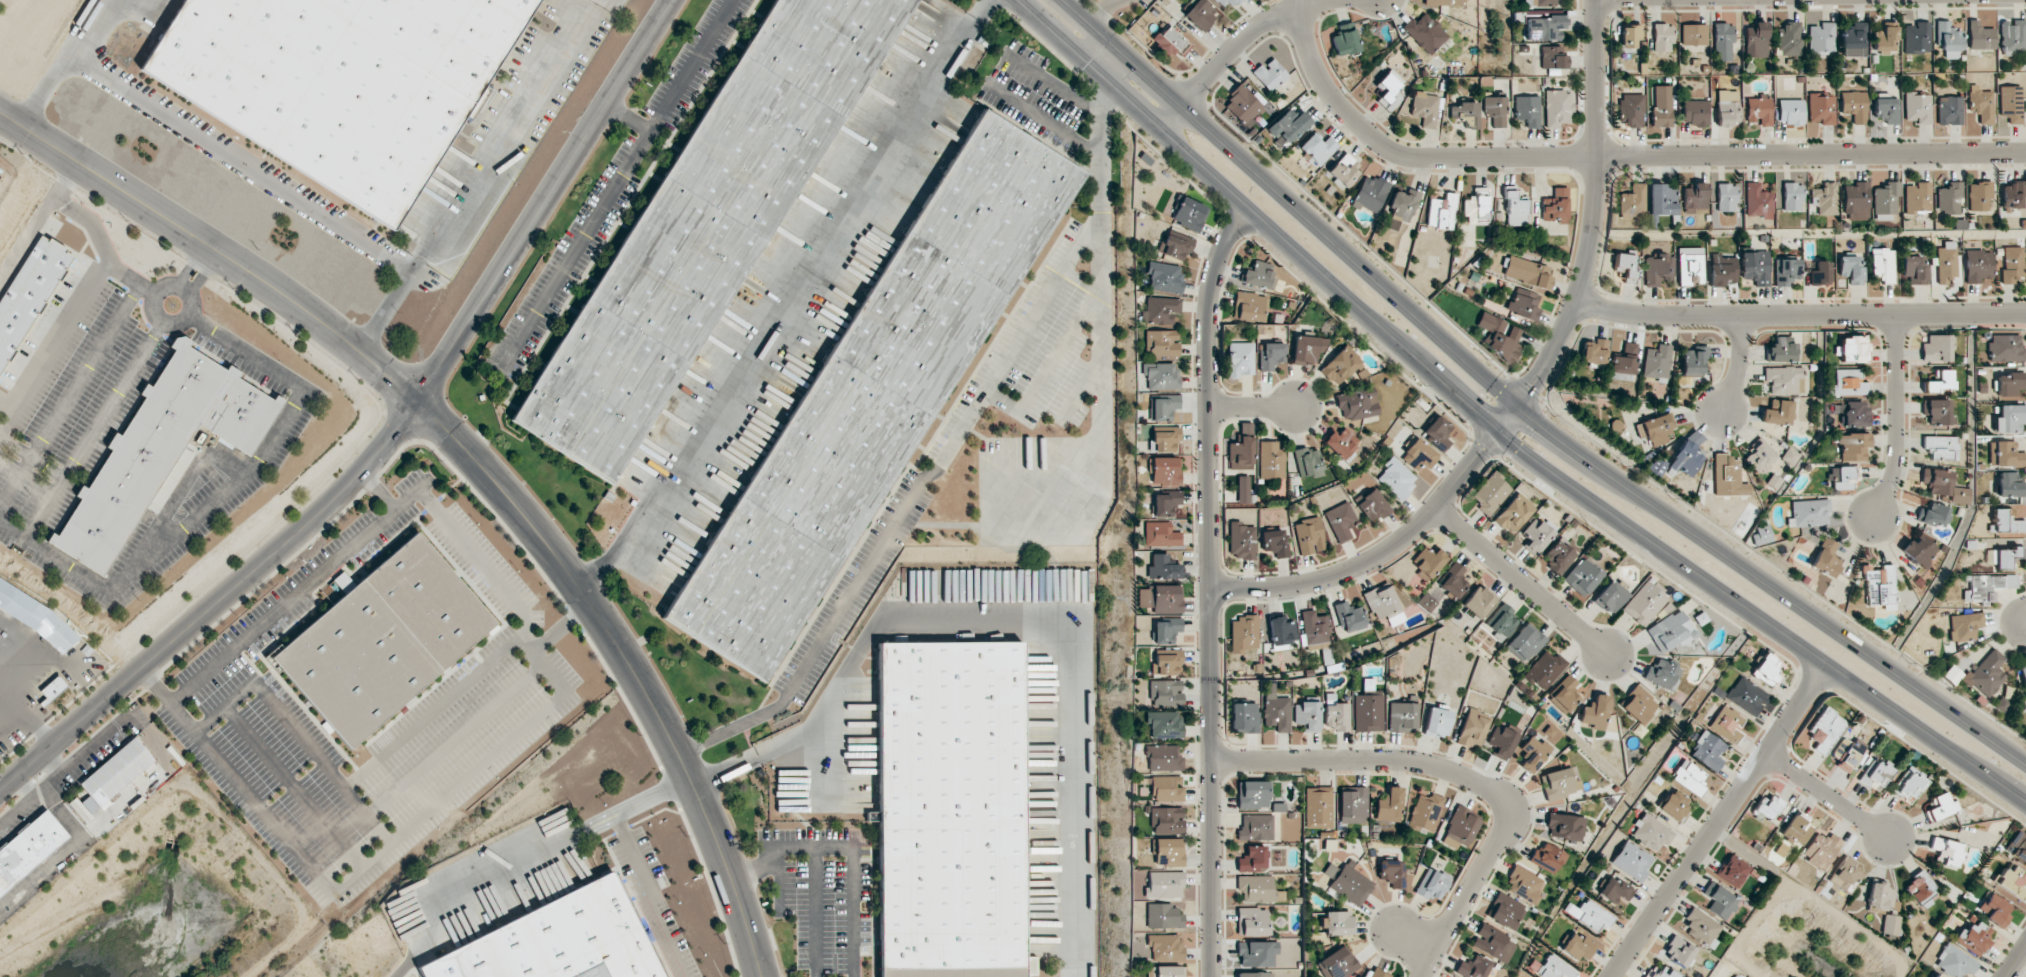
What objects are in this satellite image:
building: (1228, 2)
building: (1444, 2)
building: (1539, 2)
road: (1103, 13)
building: (1200, 14)
building: (1543, 28)
building: (1425, 33)
building: (1693, 34)
building: (1629, 35)
building: (1979, 36)
building: (2013, 36)
building: (1662, 37)
building: (1885, 37)
building: (1821, 38)
building: (1917, 38)
building: (1947, 38)
building: (1343, 39)
building: (1788, 39)
building: (1755, 40)
building: (1854, 40)
building: (1171, 42)
building: (1722, 42)
road: (1233, 48)
road: (1100, 55)
building: (1552, 57)
road: (65, 62)
building: (1270, 74)
building: (337, 81)
road: (1049, 83)
building: (1389, 90)
building: (1981, 104)
building: (2010, 104)
building: (1241, 105)
building: (1662, 106)
building: (1854, 106)
building: (1917, 107)
building: (1424, 108)
building: (1557, 108)
building: (1727, 108)
building: (1821, 108)
building: (1886, 108)
building: (1632, 109)
building: (1494, 110)
building: (1758, 110)
building: (1949, 110)
building: (1528, 111)
building: (1790, 111)
building: (1694, 112)
building: (1466, 113)
road: (627, 118)
road: (1041, 118)
building: (1287, 126)
building: (1318, 148)
road: (1615, 156)
road: (65, 178)
road: (480, 180)
road: (613, 186)
building: (1370, 194)
building: (1978, 195)
building: (2011, 195)
building: (1791, 196)
building: (1694, 197)
building: (1726, 197)
building: (1917, 197)
building: (1823, 198)
building: (1948, 199)
building: (1662, 200)
building: (1757, 201)
building: (1855, 201)
road: (545, 202)
building: (1632, 202)
building: (1884, 202)
building: (1403, 204)
building: (1555, 206)
road: (72, 210)
building: (1475, 210)
building: (1515, 210)
building: (1442, 212)
building: (1189, 214)
building: (704, 226)
building: (1174, 246)
road: (215, 248)
road: (205, 255)
building: (1946, 262)
building: (2011, 263)
building: (1883, 264)
building: (1625, 265)
building: (1690, 265)
building: (1978, 266)
building: (1755, 267)
building: (1657, 269)
building: (1850, 269)
building: (1914, 269)
building: (1722, 270)
building: (1786, 271)
road: (1101, 272)
building: (1527, 272)
road: (185, 274)
building: (1819, 274)
building: (1257, 276)
building: (1164, 277)
road: (196, 281)
building: (29, 292)
road: (153, 302)
building: (1523, 304)
building: (1250, 306)
building: (1158, 310)
road: (1800, 315)
building: (1498, 337)
building: (1161, 343)
building: (1936, 348)
building: (1307, 349)
building: (1852, 349)
building: (2004, 349)
building: (1780, 350)
building: (1594, 352)
building: (1270, 355)
building: (1240, 359)
building: (1693, 360)
building: (1624, 363)
building: (1657, 363)
road: (1737, 364)
road: (1049, 366)
building: (1342, 367)
building: (1159, 376)
building: (1783, 379)
building: (1939, 381)
building: (1847, 383)
building: (2007, 384)
road: (1529, 388)
building: (873, 396)
building: (1357, 404)
road: (1251, 405)
traffic signals: (1518, 406)
building: (1161, 407)
road: (1522, 409)
building: (1936, 410)
building: (1777, 412)
building: (1854, 413)
road: (1896, 417)
building: (2008, 419)
building: (1654, 428)
road: (1496, 432)
building: (1437, 433)
traffic signals: (1498, 434)
building: (1164, 440)
building: (1341, 444)
building: (1852, 446)
building: (1941, 447)
building: (160, 448)
building: (1240, 453)
building: (1687, 454)
building: (2004, 454)
building: (1418, 455)
building: (1760, 456)
building: (1790, 456)
building: (1270, 461)
building: (1308, 462)
building: (1163, 471)
building: (1728, 477)
building: (1396, 478)
building: (1840, 478)
building: (1937, 481)
building: (2009, 485)
building: (1243, 489)
building: (1490, 493)
road: (220, 494)
building: (1960, 495)
road: (907, 502)
building: (1164, 503)
building: (1373, 505)
building: (1808, 512)
building: (1513, 513)
building: (1934, 514)
building: (1340, 521)
building: (1158, 534)
building: (1536, 535)
building: (1760, 535)
building: (1308, 536)
building: (1240, 540)
building: (1274, 542)
road: (470, 550)
building: (1920, 550)
building: (1558, 556)
building: (2002, 557)
building: (1825, 559)
building: (1428, 562)
building: (1161, 567)
building: (1583, 576)
road: (1523, 580)
building: (1453, 581)
road: (1206, 586)
building: (1880, 587)
building: (1986, 587)
building: (1609, 597)
building: (1162, 598)
building: (1478, 602)
road: (215, 604)
building: (1384, 604)
building: (1644, 604)
building: (1349, 617)
building: (36, 618)
road: (1024, 620)
building: (1501, 621)
building: (1964, 626)
road: (559, 627)
building: (1314, 628)
building: (1164, 630)
building: (1670, 631)
building: (1244, 633)
building: (1281, 633)
building: (383, 641)
building: (1525, 643)
building: (85, 650)
building: (1163, 662)
road: (633, 665)
building: (1544, 669)
building: (1766, 669)
building: (1663, 674)
building: (1986, 674)
building: (2023, 678)
building: (75, 686)
road: (154, 686)
building: (51, 690)
building: (1163, 693)
building: (1564, 695)
building: (1746, 696)
building: (1639, 707)
building: (1275, 709)
road: (27, 712)
building: (1595, 712)
building: (1367, 713)
building: (1306, 716)
building: (1402, 716)
building: (1243, 718)
building: (1437, 721)
building: (1162, 724)
building: (1726, 724)
building: (1473, 728)
building: (1824, 730)
building: (1501, 741)
building: (1706, 751)
building: (1533, 753)
building: (1846, 753)
building: (1161, 758)
building: (116, 771)
road: (1454, 775)
building: (1875, 775)
building: (1687, 777)
building: (1559, 783)
building: (1908, 785)
building: (1164, 788)
building: (1253, 794)
road: (1827, 795)
building: (1673, 804)
building: (950, 805)
building: (1353, 805)
building: (1389, 805)
road: (639, 806)
building: (1768, 806)
building: (1318, 807)
building: (1939, 807)
building: (1425, 812)
road: (366, 815)
road: (419, 818)
building: (1164, 820)
road: (1719, 821)
building: (1565, 826)
building: (1255, 827)
building: (1797, 829)
building: (1650, 832)
building: (2017, 847)
road: (782, 848)
building: (28, 849)
building: (1821, 849)
building: (1166, 852)
building: (1947, 852)
building: (1547, 858)
building: (1252, 859)
building: (1631, 860)
building: (1733, 870)
building: (1391, 872)
building: (1844, 875)
building: (2010, 881)
building: (1348, 883)
building: (1432, 884)
building: (1524, 884)
building: (1162, 885)
building: (1920, 888)
road: (777, 889)
building: (1614, 890)
building: (1880, 896)
road: (650, 897)
building: (1719, 901)
building: (1995, 909)
building: (1506, 911)
road: (815, 912)
road: (852, 912)
building: (1589, 914)
building: (1161, 916)
building: (1252, 922)
building: (1337, 923)
building: (1890, 925)
building: (1701, 928)
building: (1973, 938)
road: (1410, 940)
building: (558, 941)
building: (1493, 943)
building: (1163, 947)
building: (1578, 947)
building: (1678, 951)
building: (1257, 953)
road: (2014, 960)
building: (1955, 962)
building: (1338, 963)
building: (1030, 966)
building: (1472, 967)
building: (1555, 968)
building: (952, 972)
building: (1373, 973)
building: (1660, 973)
building: (1254, 974)
building: (1938, 976)

